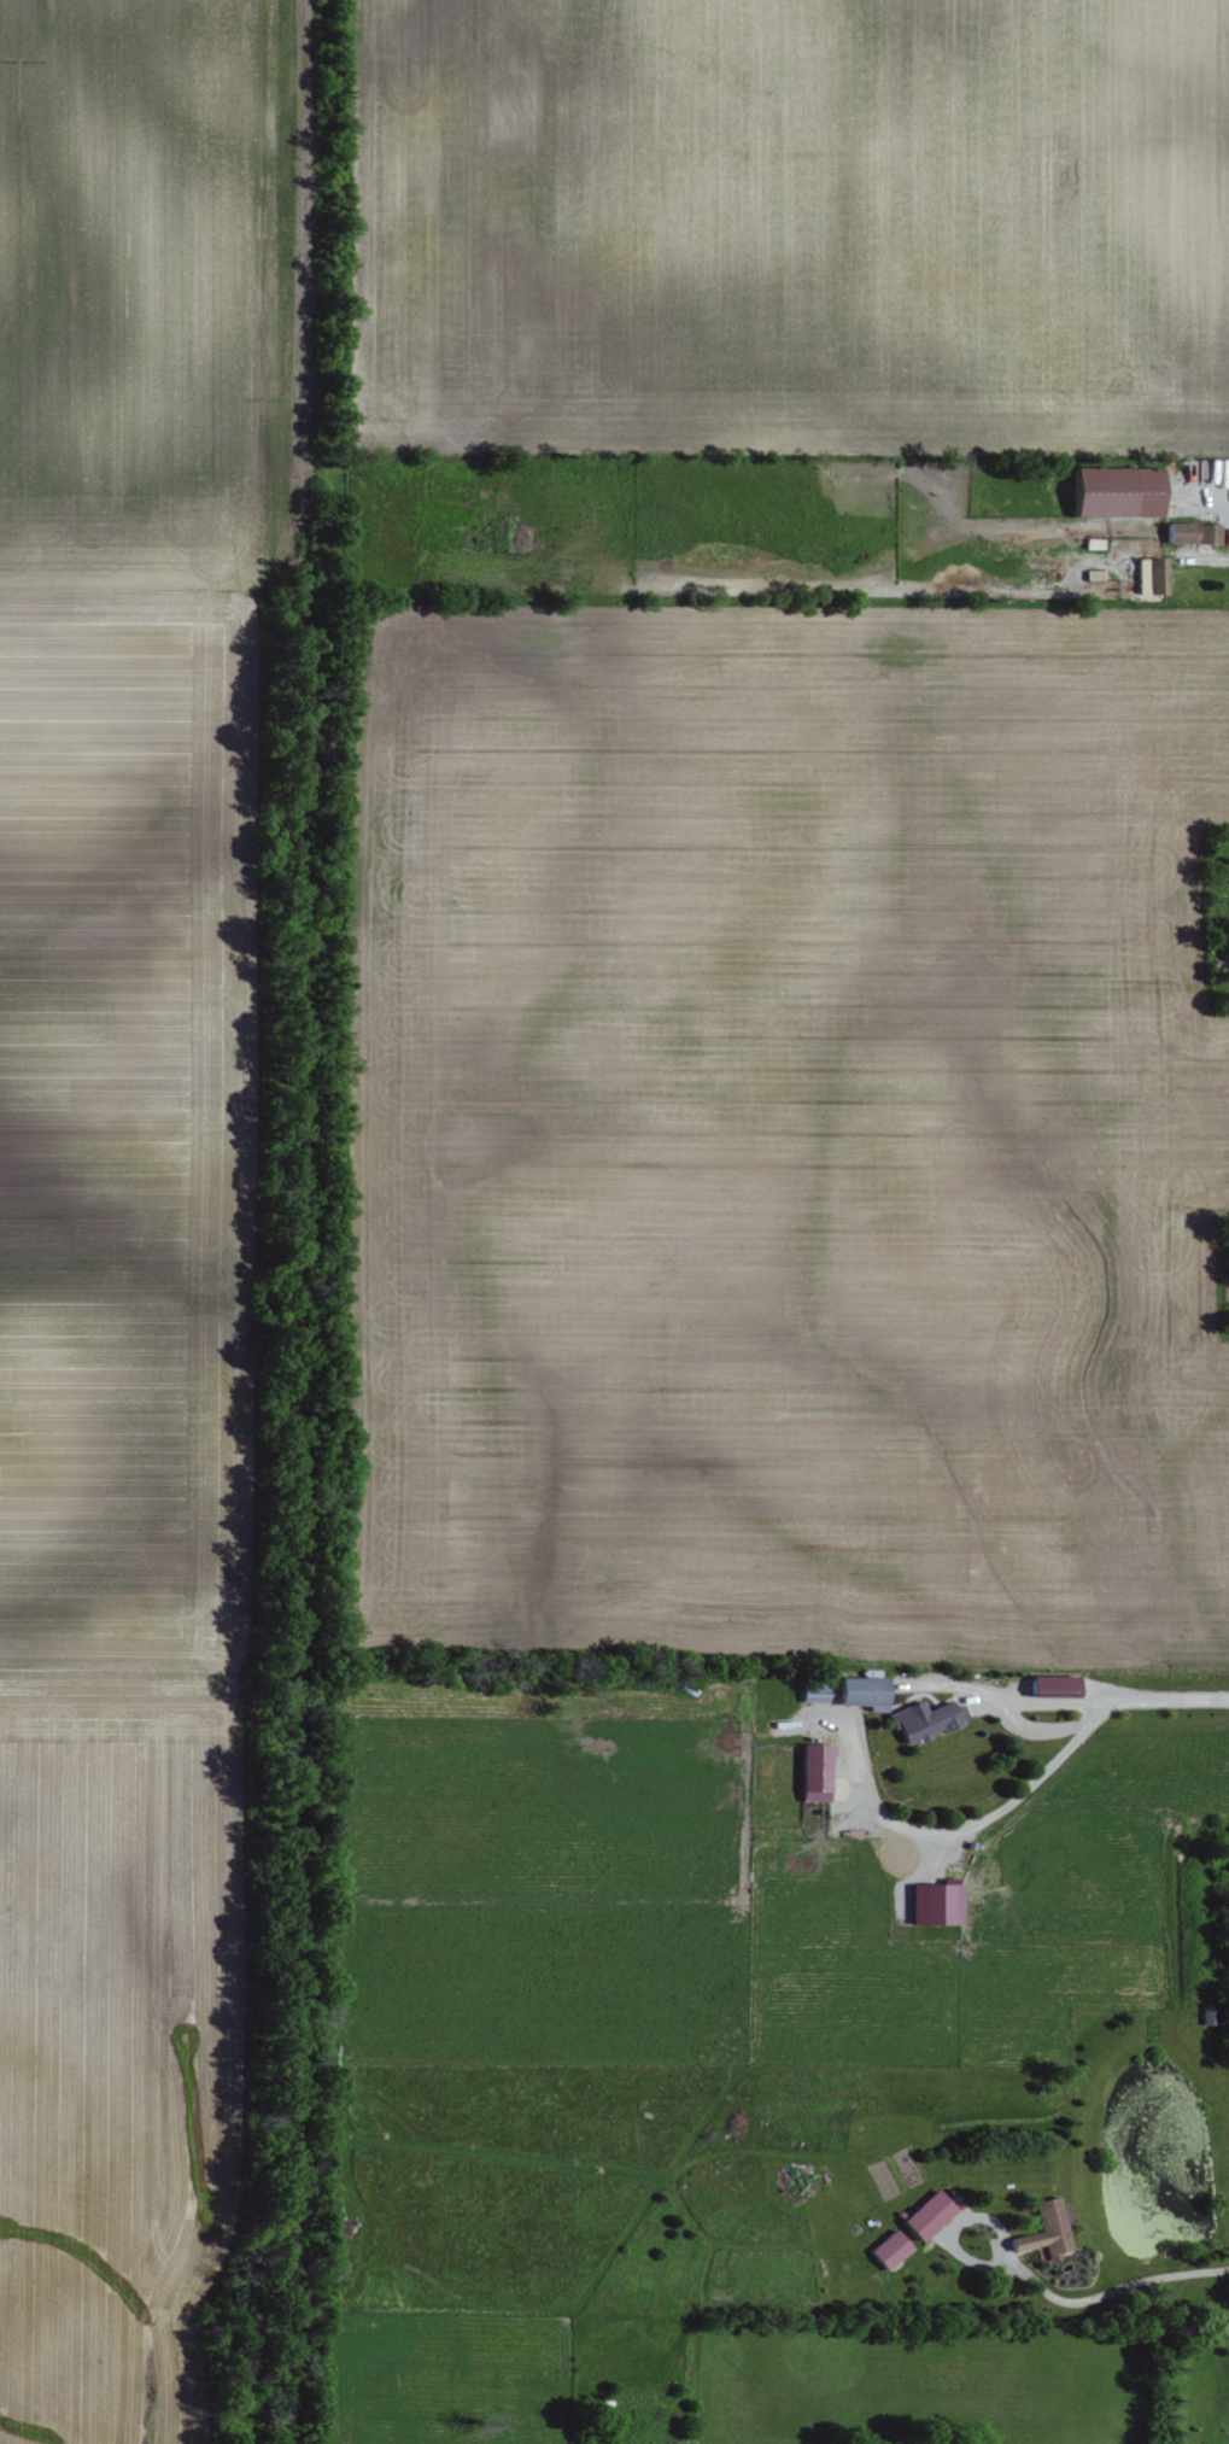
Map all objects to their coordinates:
building: (1122, 492)
building: (1194, 533)
building: (1094, 543)
road: (1208, 557)
building: (1153, 575)
building: (1057, 1688)
building: (866, 1694)
building: (815, 1695)
road: (997, 1696)
building: (925, 1721)
building: (817, 1773)
road: (1017, 1796)
building: (937, 1905)
building: (930, 2215)
building: (1048, 2229)
building: (891, 2250)
road: (1093, 2302)

